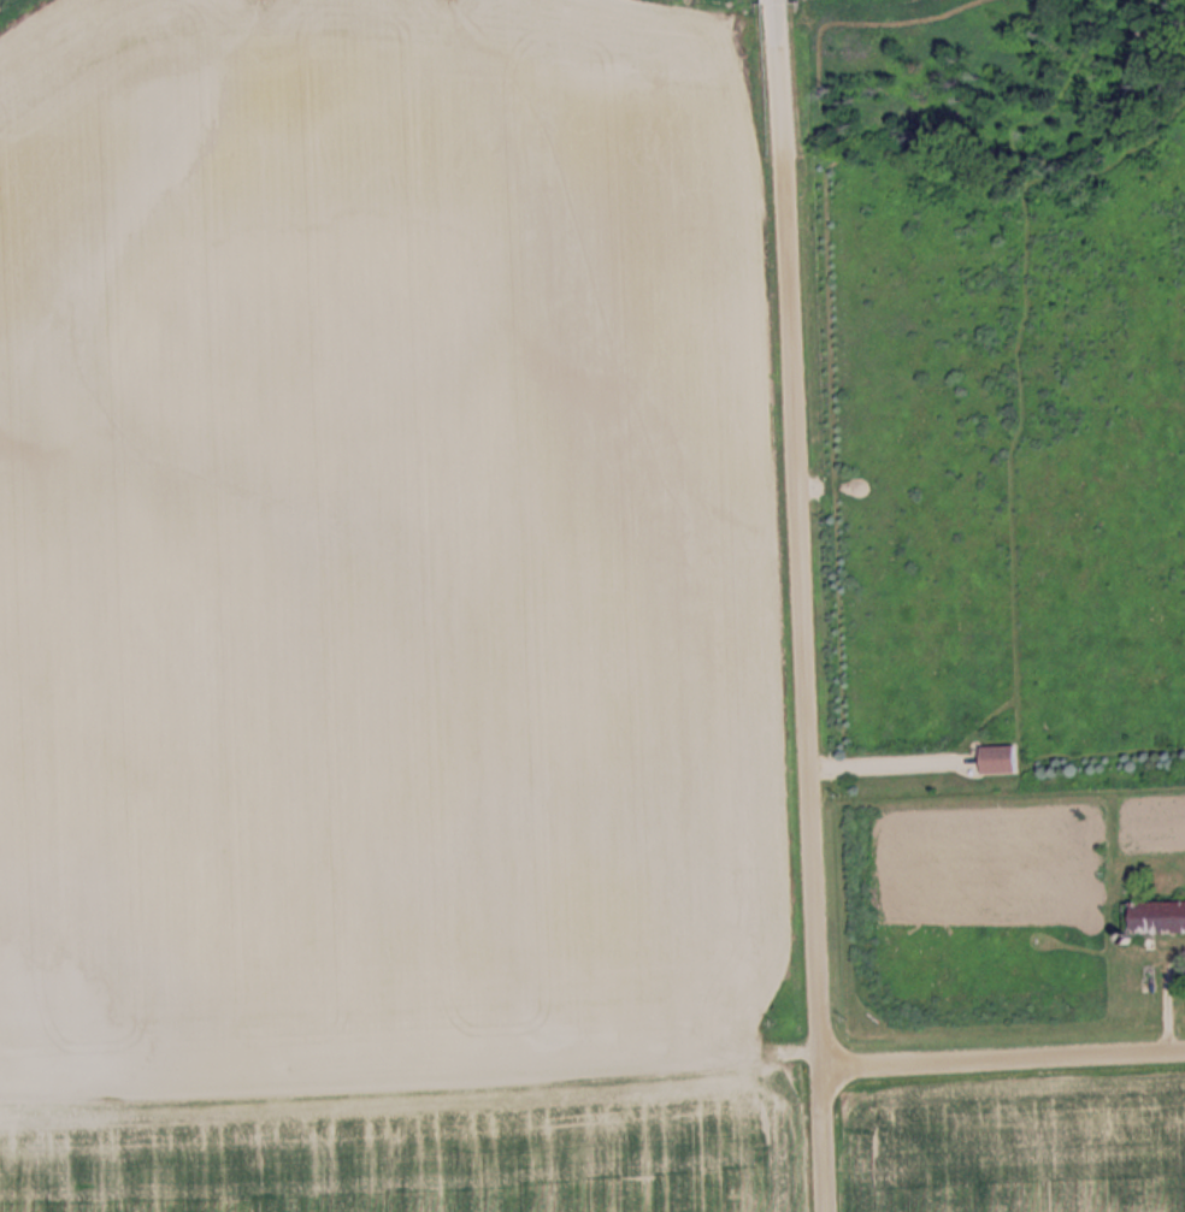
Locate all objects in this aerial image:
road: (777, 1)
road: (802, 607)
building: (1000, 759)
building: (1161, 918)
road: (1003, 1059)

